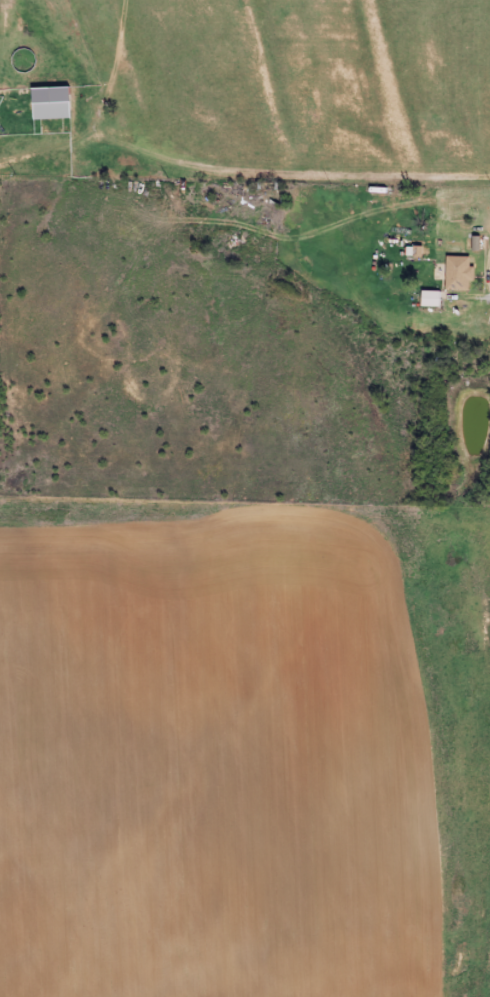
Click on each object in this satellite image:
building: (46, 102)
building: (446, 199)
building: (455, 272)
building: (427, 298)
railway: (245, 909)

